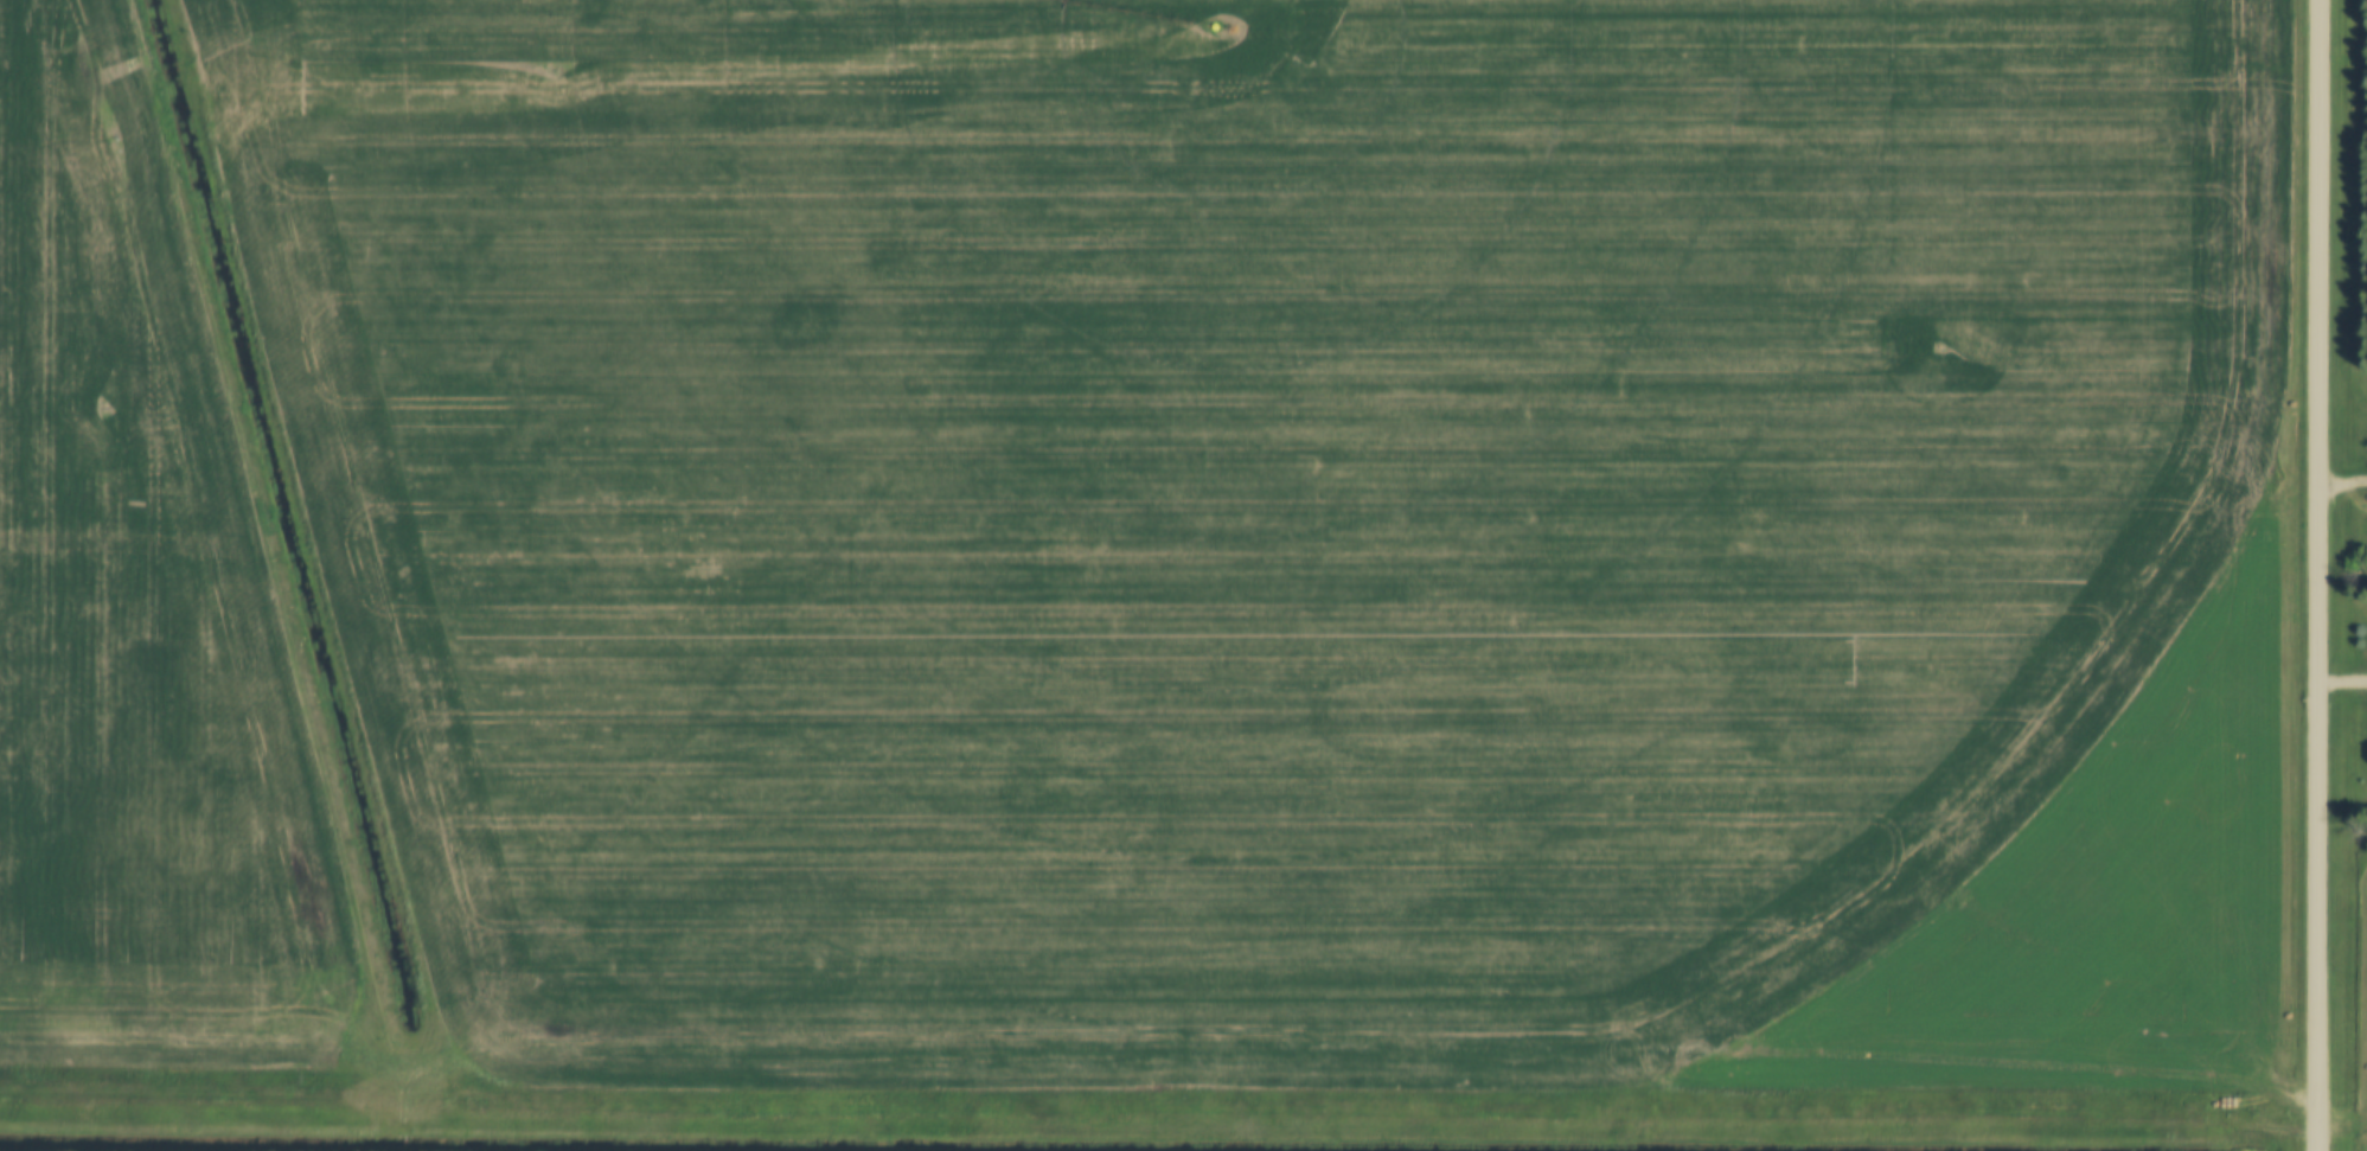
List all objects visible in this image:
road: (2321, 575)

